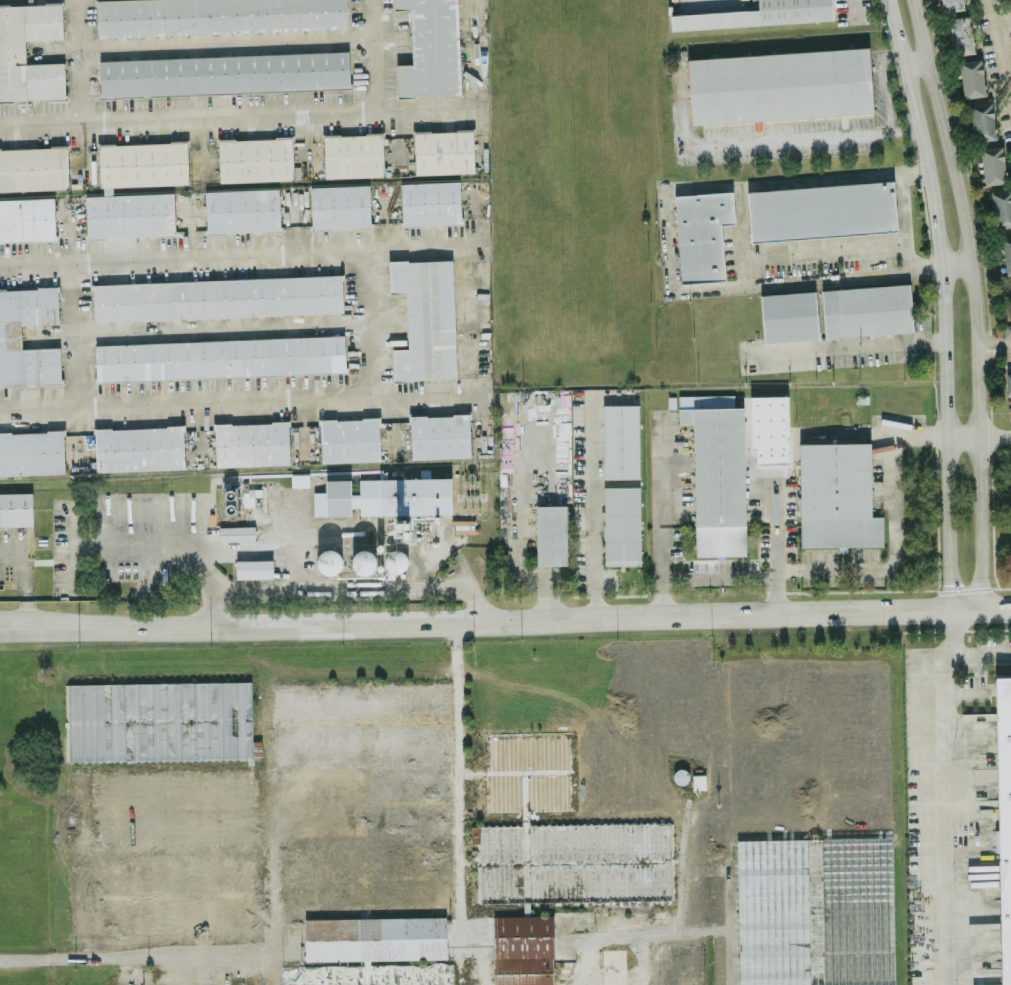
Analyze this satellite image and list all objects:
building: (951, 4)
building: (758, 14)
building: (216, 16)
building: (961, 32)
road: (1000, 40)
road: (202, 43)
building: (431, 49)
building: (12, 50)
road: (378, 54)
road: (77, 59)
road: (916, 65)
building: (224, 73)
building: (971, 77)
road: (882, 83)
building: (779, 85)
road: (239, 113)
building: (982, 118)
road: (762, 140)
building: (443, 151)
building: (353, 154)
building: (255, 158)
building: (993, 164)
building: (136, 189)
building: (30, 190)
building: (430, 202)
building: (340, 205)
building: (242, 209)
building: (821, 210)
road: (904, 219)
building: (1003, 227)
building: (702, 234)
road: (741, 239)
road: (241, 252)
road: (953, 261)
building: (217, 297)
road: (941, 300)
road: (971, 300)
building: (866, 309)
building: (789, 315)
building: (425, 318)
road: (360, 320)
road: (193, 328)
building: (1007, 329)
road: (73, 333)
building: (10, 335)
road: (846, 344)
road: (993, 344)
building: (219, 357)
building: (1007, 383)
road: (240, 399)
building: (769, 427)
road: (994, 434)
building: (440, 435)
road: (908, 435)
road: (962, 435)
building: (349, 439)
building: (621, 440)
road: (779, 440)
building: (252, 443)
building: (139, 447)
building: (32, 451)
building: (717, 472)
building: (299, 479)
road: (660, 485)
power substation: (474, 488)
building: (836, 495)
building: (385, 496)
building: (16, 508)
road: (590, 508)
building: (621, 525)
building: (236, 532)
building: (551, 534)
road: (166, 541)
road: (271, 547)
building: (330, 560)
building: (395, 560)
building: (363, 561)
building: (253, 568)
road: (299, 568)
road: (774, 570)
road: (660, 573)
road: (842, 574)
road: (22, 576)
road: (403, 589)
road: (214, 598)
road: (517, 619)
road: (11, 625)
road: (978, 652)
building: (157, 722)
road: (457, 780)
building: (698, 780)
road: (936, 794)
building: (360, 800)
building: (160, 811)
building: (1004, 813)
building: (571, 863)
building: (161, 896)
building: (814, 912)
building: (521, 938)
road: (125, 955)
building: (522, 972)

